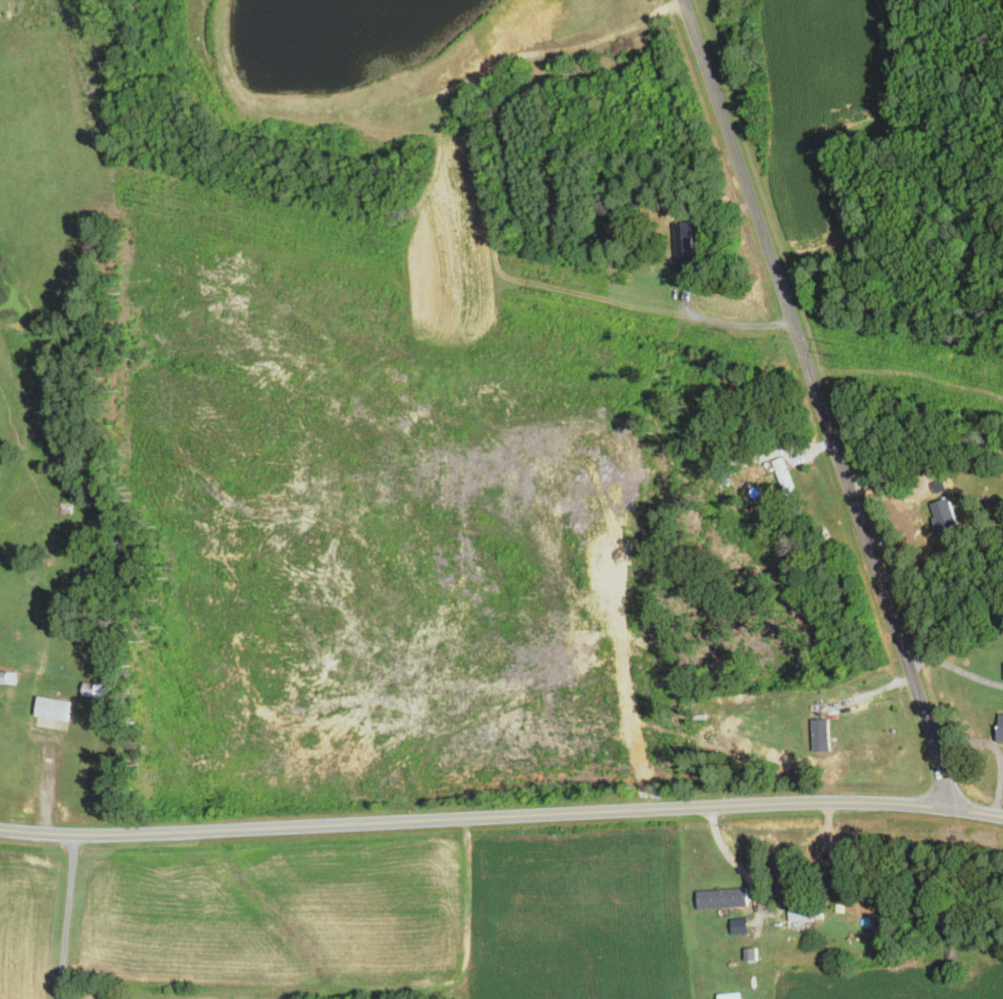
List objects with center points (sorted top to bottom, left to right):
building: (685, 246)
power tower: (272, 257)
power tower: (790, 370)
road: (822, 403)
building: (945, 514)
building: (4, 677)
building: (55, 709)
building: (1001, 731)
road: (501, 817)
building: (843, 873)
building: (724, 899)
building: (806, 914)
road: (69, 916)

